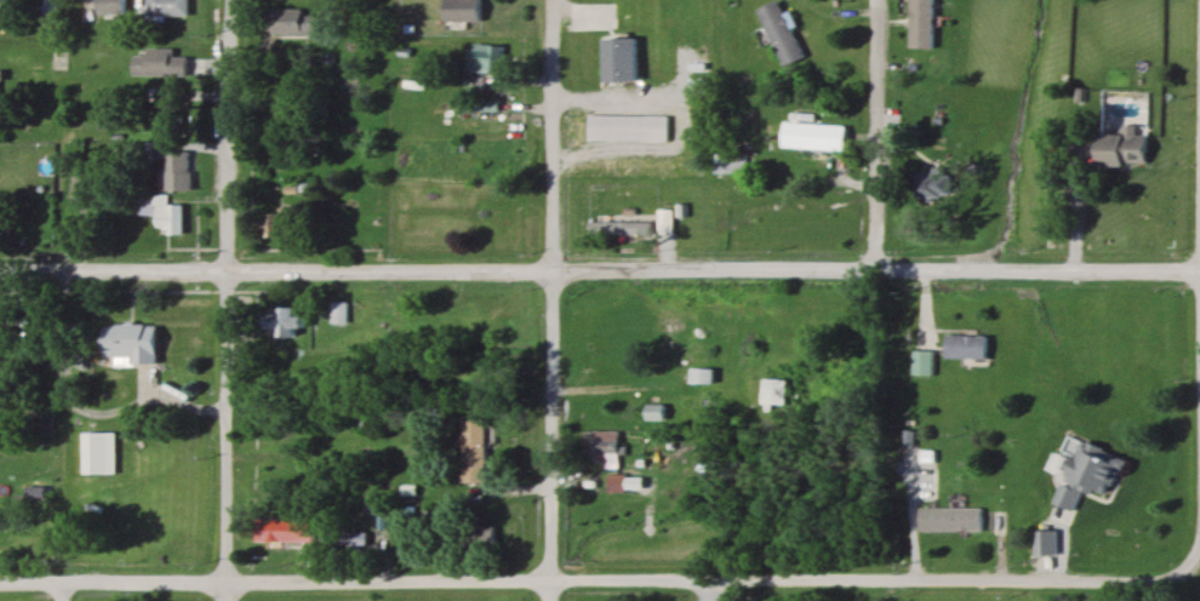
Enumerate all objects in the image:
building: (2, 5)
building: (110, 7)
building: (166, 7)
building: (467, 10)
building: (47, 13)
building: (296, 22)
building: (927, 23)
building: (785, 34)
building: (485, 58)
building: (625, 59)
building: (160, 62)
building: (0, 107)
building: (171, 113)
building: (629, 128)
building: (827, 134)
road: (875, 134)
building: (1125, 147)
building: (486, 162)
building: (179, 171)
building: (936, 183)
road: (1078, 202)
building: (171, 219)
building: (496, 221)
building: (284, 222)
building: (621, 227)
road: (599, 269)
road: (223, 300)
road: (547, 300)
building: (290, 322)
building: (2, 324)
building: (415, 324)
building: (136, 342)
building: (966, 347)
building: (921, 361)
building: (776, 394)
building: (657, 412)
building: (607, 443)
building: (474, 450)
building: (97, 453)
building: (312, 458)
building: (1090, 475)
building: (918, 481)
building: (615, 483)
building: (35, 493)
building: (950, 520)
building: (290, 531)
building: (475, 537)
building: (345, 538)
building: (1042, 543)
road: (572, 578)
road: (1181, 579)
road: (65, 591)

